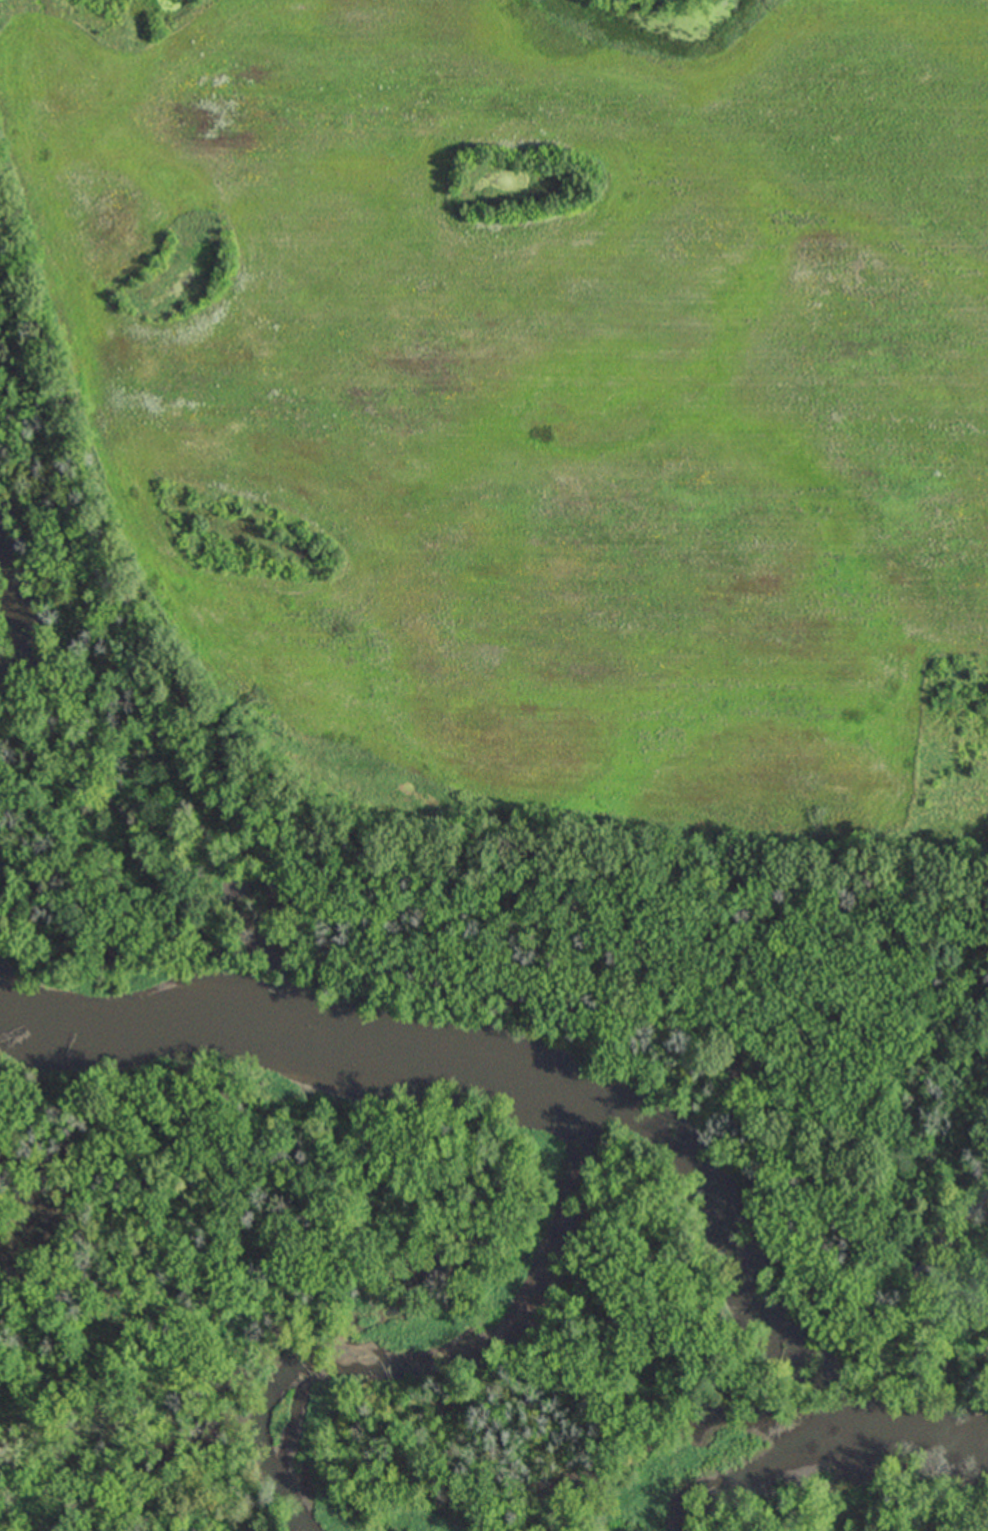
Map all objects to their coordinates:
river: (535, 1107)
river: (801, 1439)

